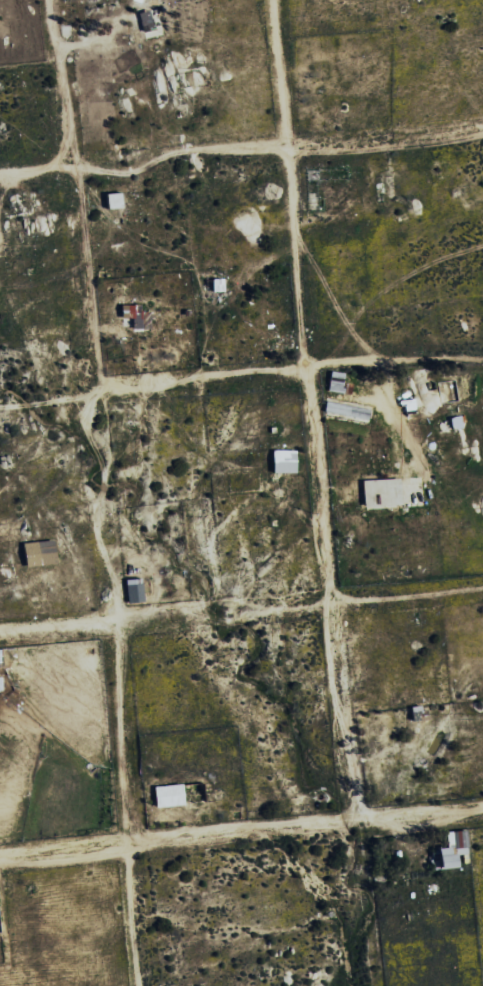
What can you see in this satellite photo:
building: (144, 21)
road: (384, 140)
road: (143, 166)
road: (78, 195)
building: (111, 200)
road: (290, 365)
road: (49, 401)
road: (305, 409)
road: (241, 612)
road: (117, 688)

